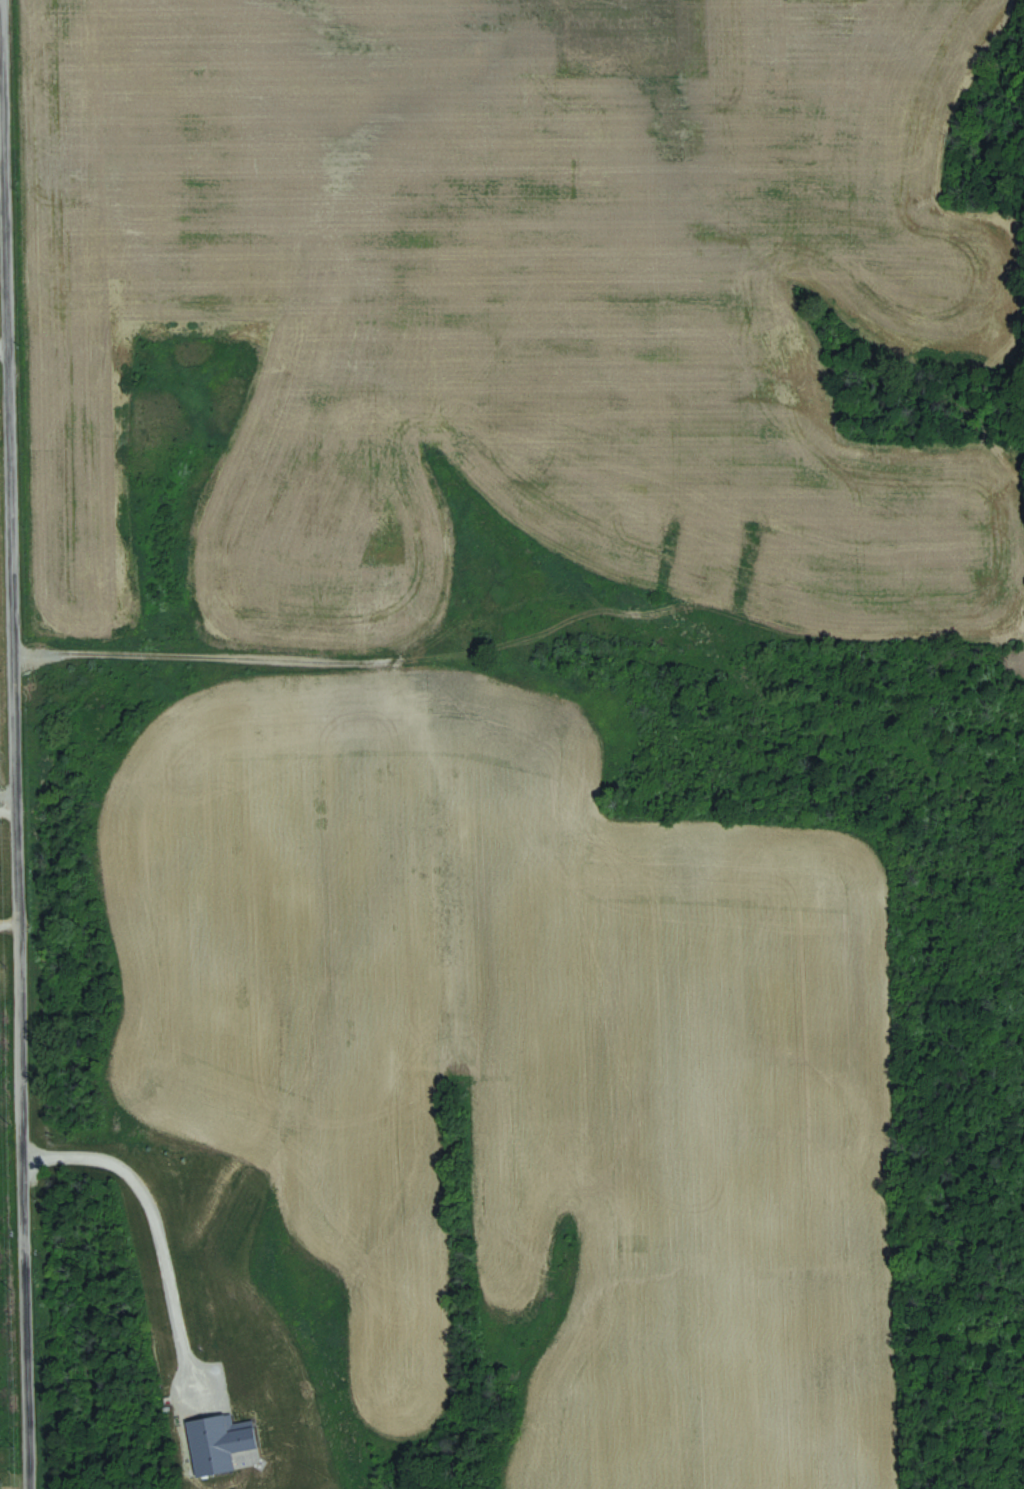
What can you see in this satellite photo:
road: (2, 345)
road: (207, 657)
road: (13, 768)
road: (7, 795)
road: (155, 1225)

